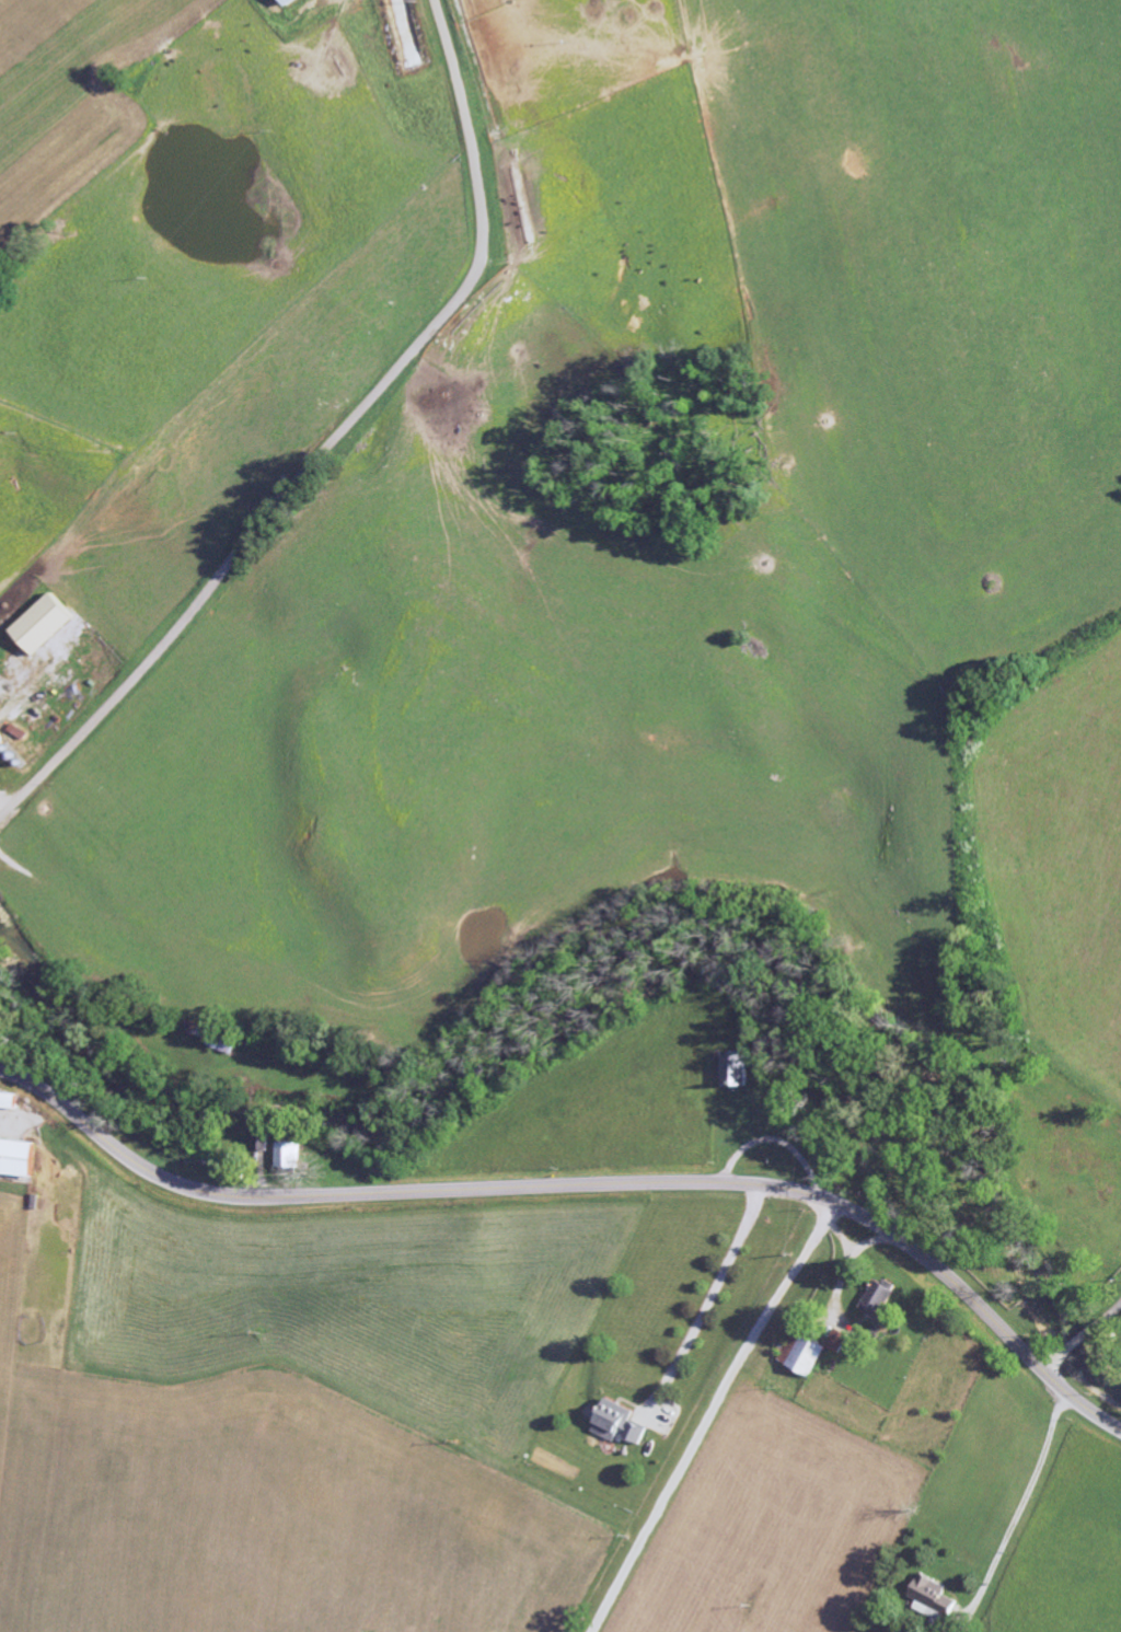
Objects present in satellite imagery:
building: (287, 1)
road: (331, 440)
building: (41, 622)
building: (0, 708)
building: (0, 740)
silo: (0, 740)
building: (9, 749)
silo: (9, 749)
building: (15, 756)
silo: (15, 756)
building: (22, 764)
silo: (22, 764)
building: (738, 1068)
building: (13, 1099)
building: (259, 1142)
building: (18, 1155)
building: (287, 1155)
road: (582, 1184)
building: (37, 1200)
road: (709, 1295)
building: (881, 1295)
road: (1105, 1313)
building: (839, 1338)
road: (1077, 1341)
building: (804, 1351)
road: (1053, 1359)
road: (708, 1414)
building: (619, 1420)
road: (1022, 1502)
building: (931, 1597)

